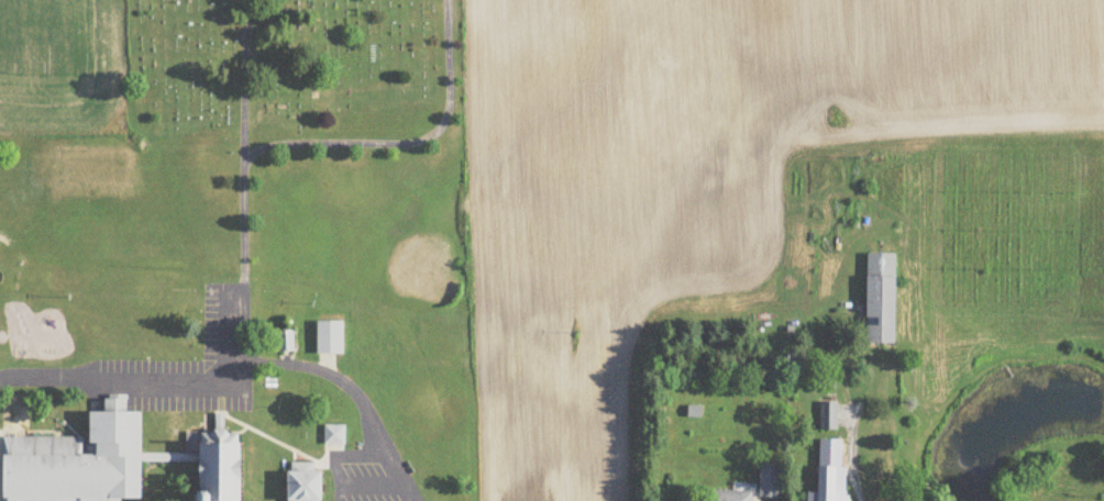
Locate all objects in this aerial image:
road: (244, 77)
road: (406, 136)
building: (879, 300)
building: (330, 338)
building: (285, 342)
road: (265, 357)
road: (123, 375)
building: (828, 416)
building: (334, 435)
road: (850, 458)
building: (835, 461)
building: (109, 463)
building: (769, 481)
building: (830, 493)

